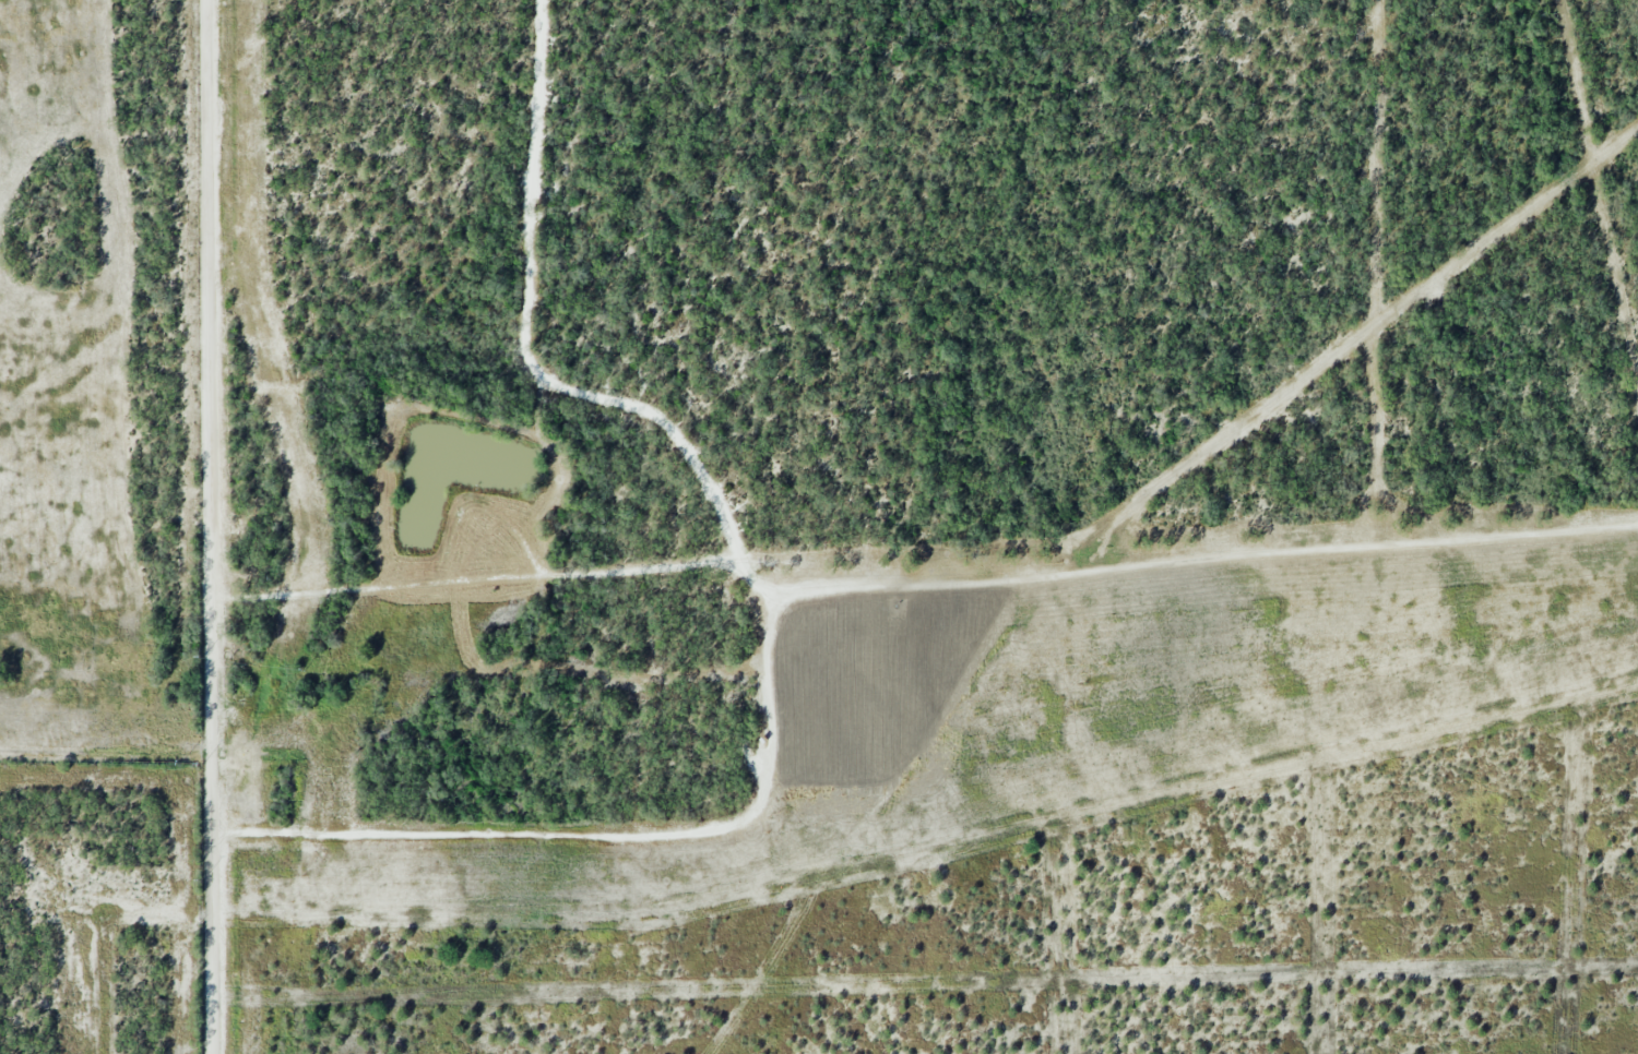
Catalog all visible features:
road: (768, 724)

